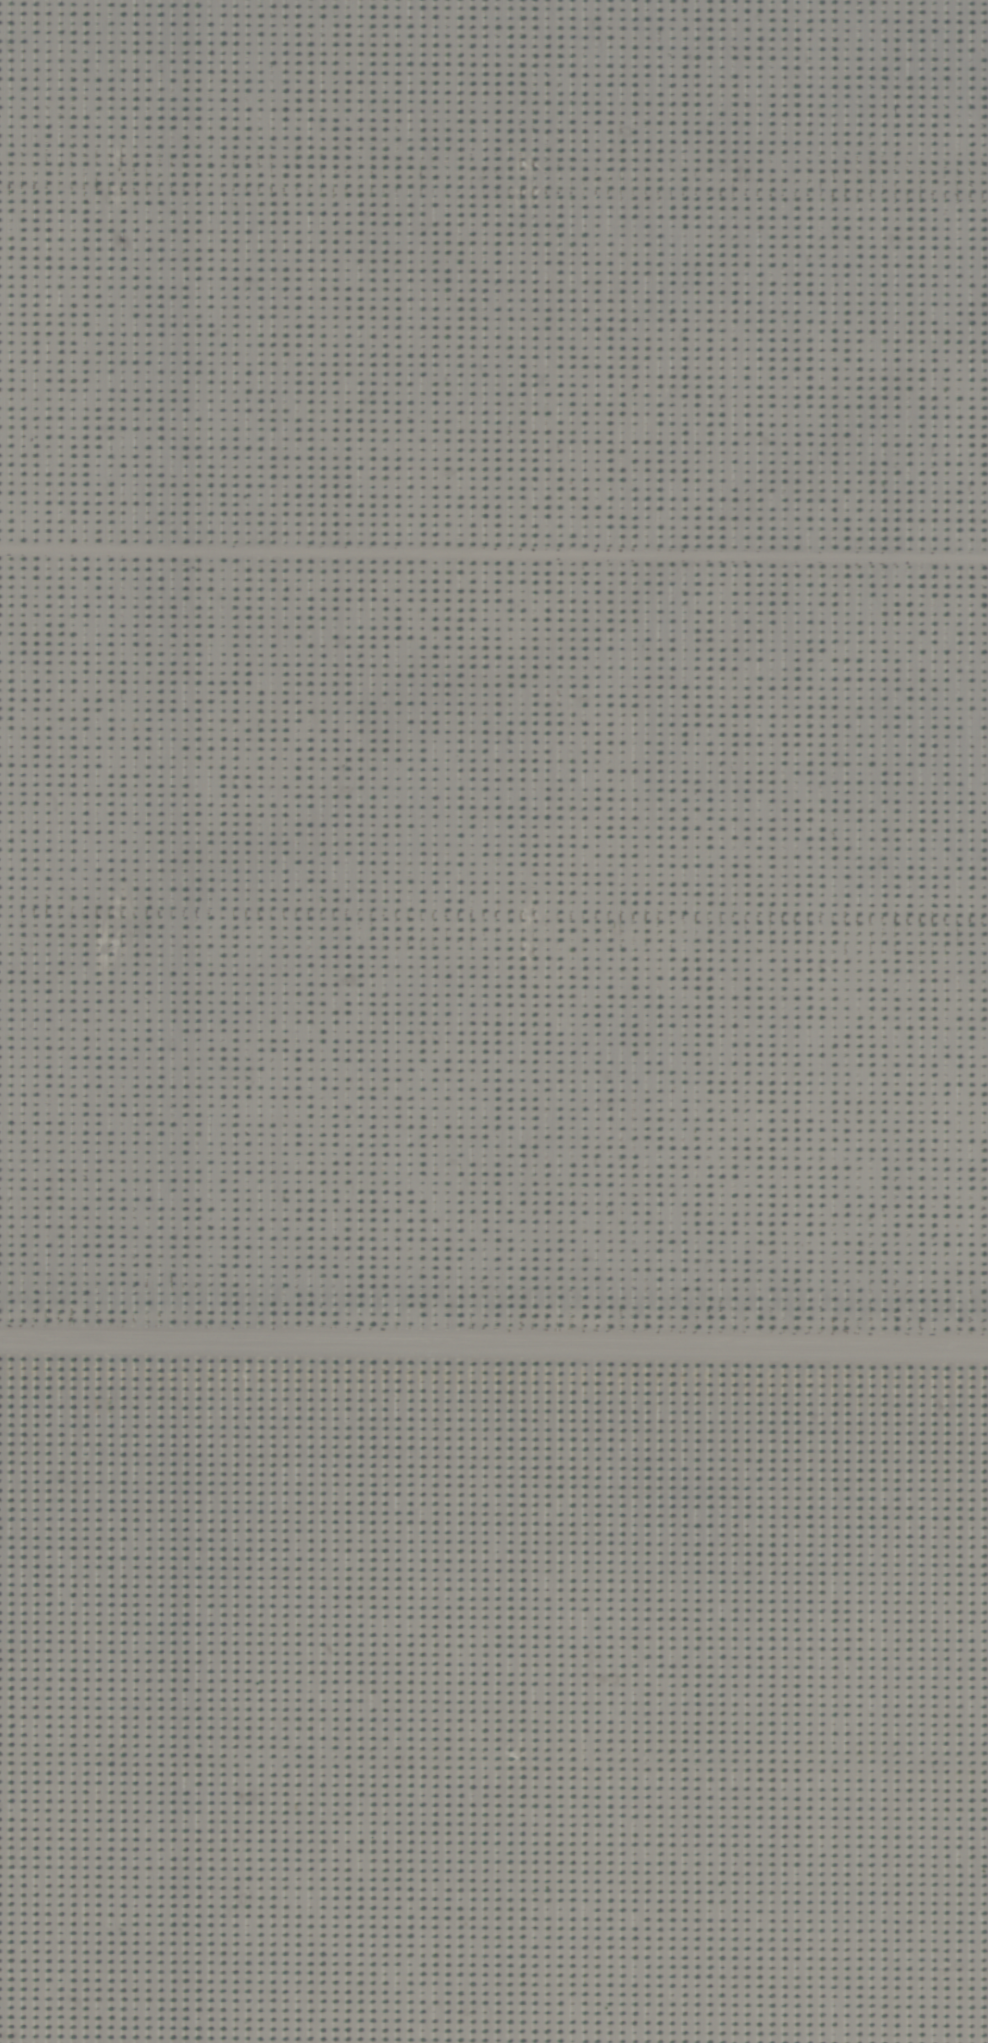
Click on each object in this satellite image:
crop: (494, 1021)
road: (494, 1312)

